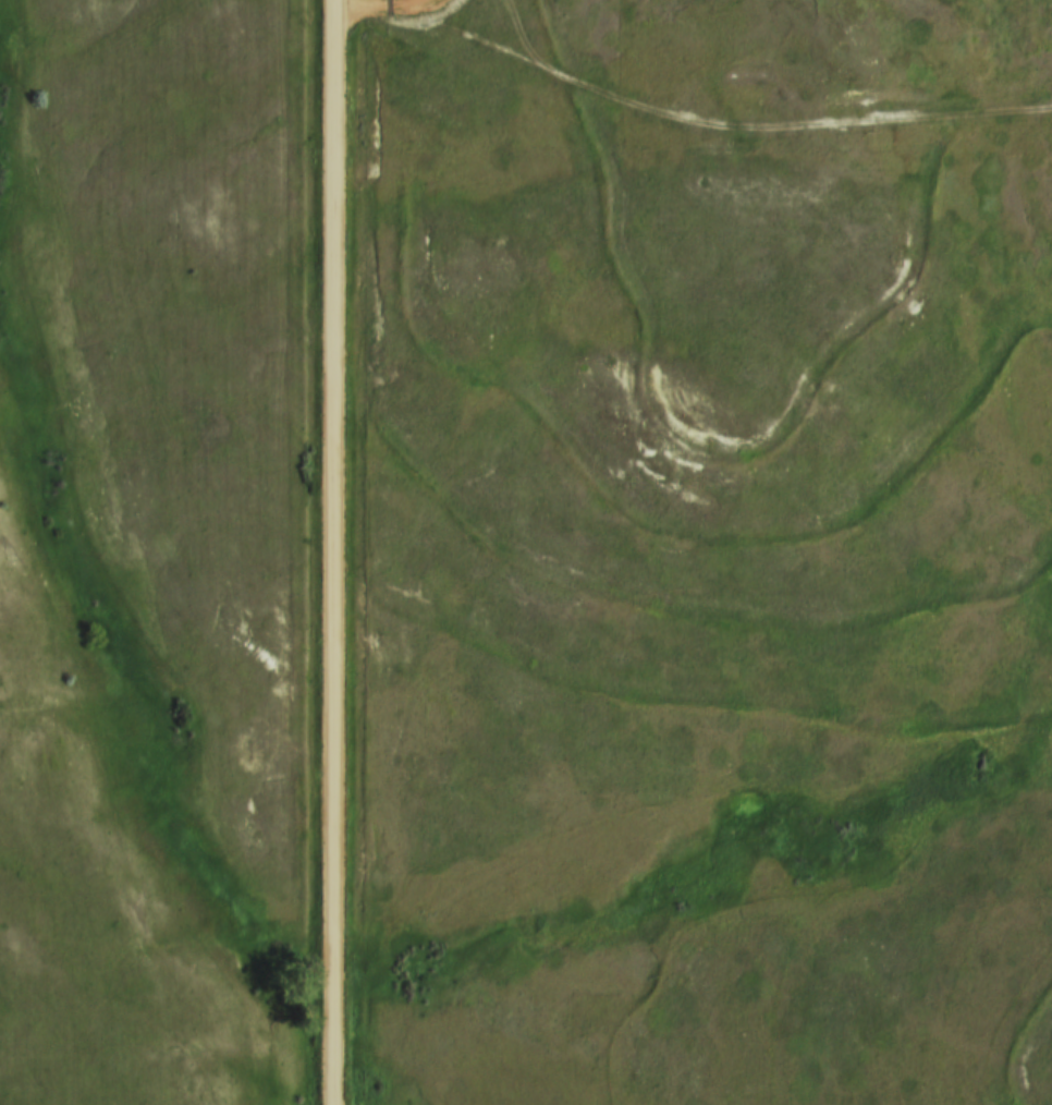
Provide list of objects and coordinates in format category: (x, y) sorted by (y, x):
road: (684, 119)
road: (332, 552)

